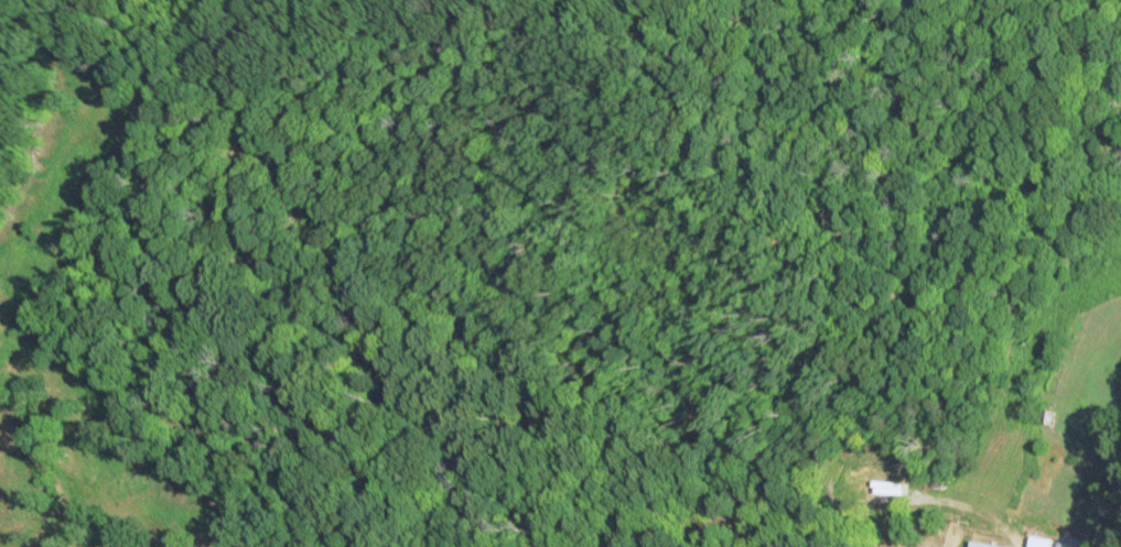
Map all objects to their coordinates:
road: (1100, 488)
building: (981, 545)

